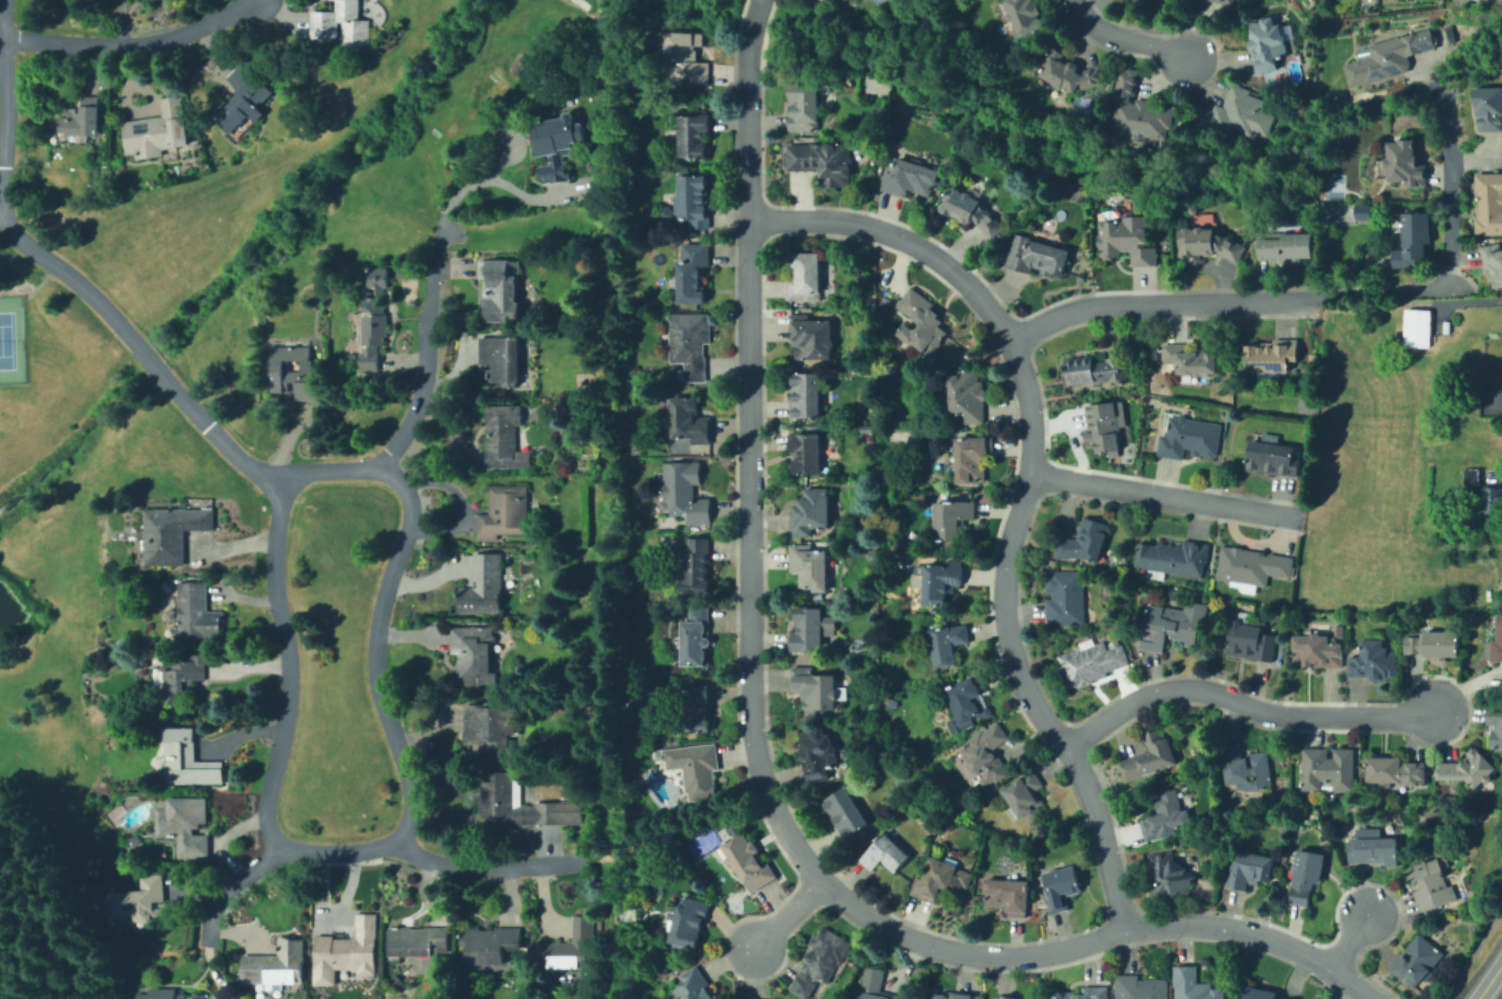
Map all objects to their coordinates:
road: (259, 0)
building: (1221, 0)
building: (1139, 1)
building: (829, 2)
building: (1026, 16)
building: (342, 24)
building: (1449, 35)
road: (1122, 39)
road: (135, 41)
building: (1268, 45)
building: (1389, 59)
building: (687, 60)
building: (1074, 74)
building: (245, 97)
building: (809, 107)
building: (1490, 109)
building: (1140, 112)
building: (1234, 116)
building: (82, 118)
building: (159, 130)
building: (694, 134)
building: (557, 146)
building: (825, 161)
building: (1406, 165)
building: (914, 179)
road: (494, 180)
park: (1335, 187)
building: (692, 202)
building: (1490, 204)
building: (971, 211)
building: (1364, 212)
road: (2, 219)
building: (1395, 226)
road: (452, 235)
building: (1127, 240)
building: (1415, 243)
building: (1209, 245)
building: (1289, 248)
building: (1038, 256)
road: (1449, 267)
building: (1498, 271)
road: (67, 274)
building: (693, 275)
building: (806, 277)
building: (381, 278)
road: (37, 283)
building: (501, 292)
road: (1153, 302)
building: (922, 320)
building: (1416, 328)
building: (374, 334)
building: (812, 336)
park: (6, 340)
building: (690, 343)
building: (502, 357)
building: (1272, 357)
building: (1313, 358)
building: (1192, 360)
building: (1099, 369)
building: (292, 370)
building: (805, 396)
building: (970, 396)
building: (1501, 399)
building: (1306, 404)
building: (689, 421)
building: (1110, 426)
building: (505, 438)
building: (1190, 440)
building: (807, 452)
building: (1275, 457)
building: (976, 459)
building: (1471, 476)
building: (682, 491)
road: (1027, 492)
road: (1165, 493)
building: (1492, 500)
building: (811, 510)
building: (505, 511)
building: (952, 519)
road: (408, 521)
building: (172, 533)
building: (1084, 538)
building: (698, 558)
building: (1173, 558)
building: (1252, 563)
building: (810, 564)
building: (943, 581)
building: (484, 585)
building: (1067, 598)
building: (1497, 604)
building: (197, 612)
building: (1171, 624)
building: (1340, 628)
building: (810, 629)
building: (696, 635)
building: (1251, 638)
building: (1437, 640)
building: (949, 643)
building: (1496, 643)
building: (1318, 647)
building: (473, 654)
building: (1374, 658)
building: (1095, 662)
building: (181, 678)
road: (287, 683)
building: (818, 689)
building: (891, 699)
building: (697, 704)
building: (966, 704)
road: (1244, 704)
building: (1496, 719)
building: (492, 727)
park: (555, 741)
road: (754, 744)
building: (820, 752)
building: (987, 754)
building: (1153, 756)
building: (189, 759)
building: (1468, 764)
building: (1248, 765)
building: (1329, 765)
building: (695, 769)
building: (1398, 769)
building: (1029, 800)
building: (511, 801)
building: (845, 808)
building: (1165, 814)
building: (185, 823)
road: (669, 825)
building: (1376, 848)
building: (887, 854)
road: (429, 857)
building: (750, 865)
building: (1247, 869)
building: (1171, 871)
building: (1307, 872)
building: (939, 881)
building: (1432, 881)
building: (1063, 887)
building: (1009, 896)
building: (144, 901)
road: (786, 915)
building: (688, 921)
building: (420, 941)
road: (1347, 941)
building: (490, 945)
building: (566, 948)
building: (347, 951)
building: (1418, 959)
building: (821, 961)
building: (276, 965)
road: (1489, 981)
building: (1195, 983)
building: (693, 985)
building: (876, 986)
building: (1140, 987)
building: (1264, 992)
building: (171, 994)
building: (1087, 994)
building: (955, 996)
building: (1009, 997)
building: (743, 998)

